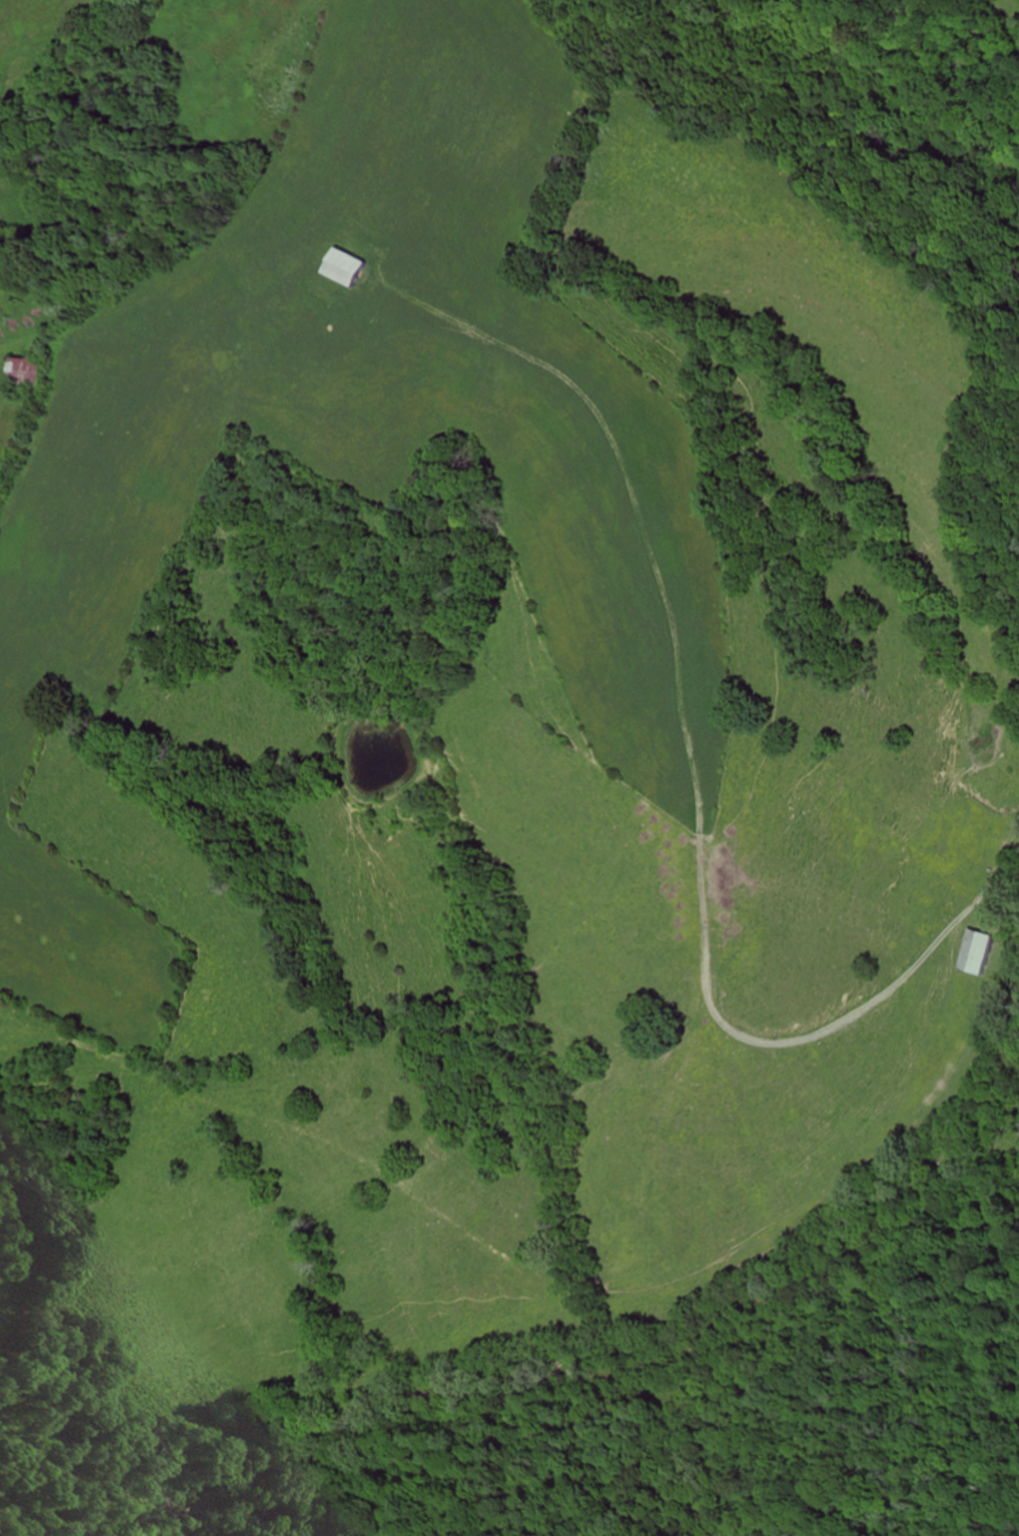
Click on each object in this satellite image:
building: (357, 267)
building: (35, 371)
building: (979, 950)

